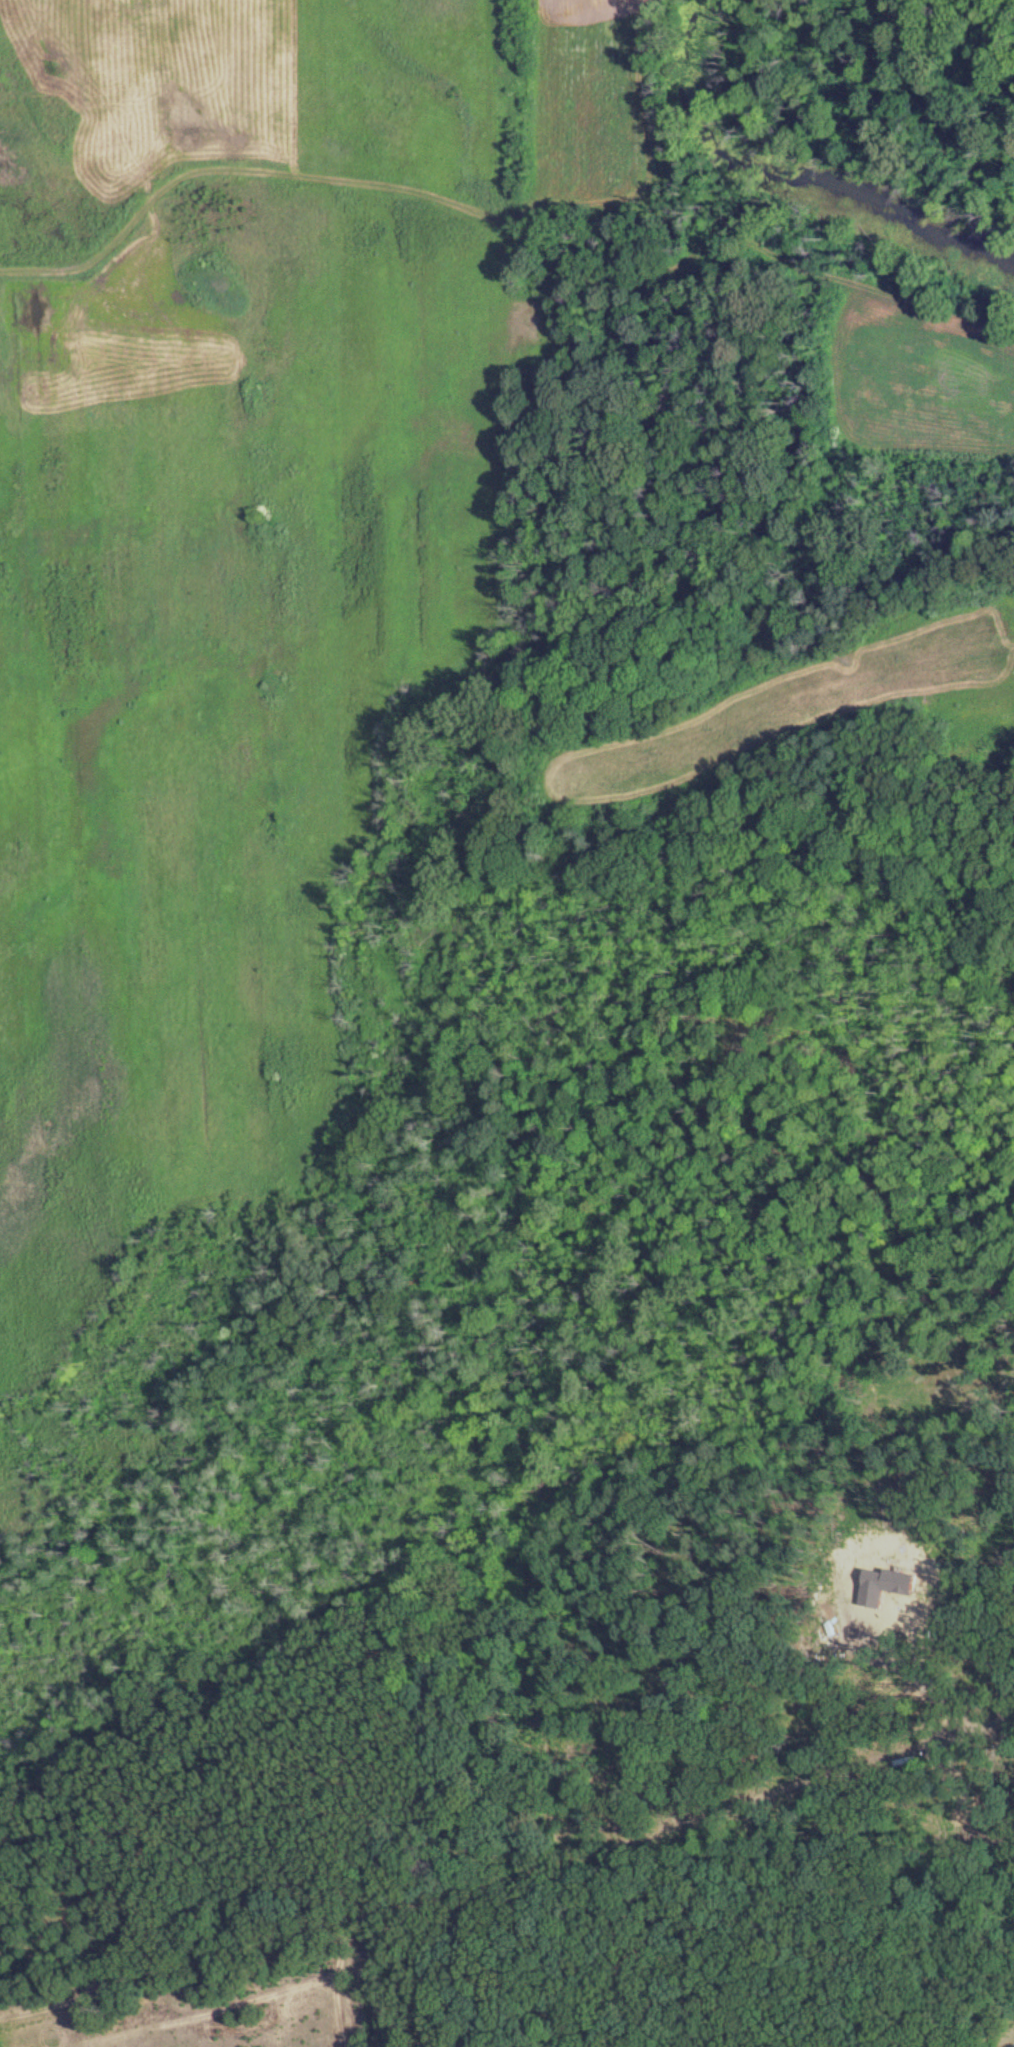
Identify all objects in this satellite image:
road: (925, 1684)

